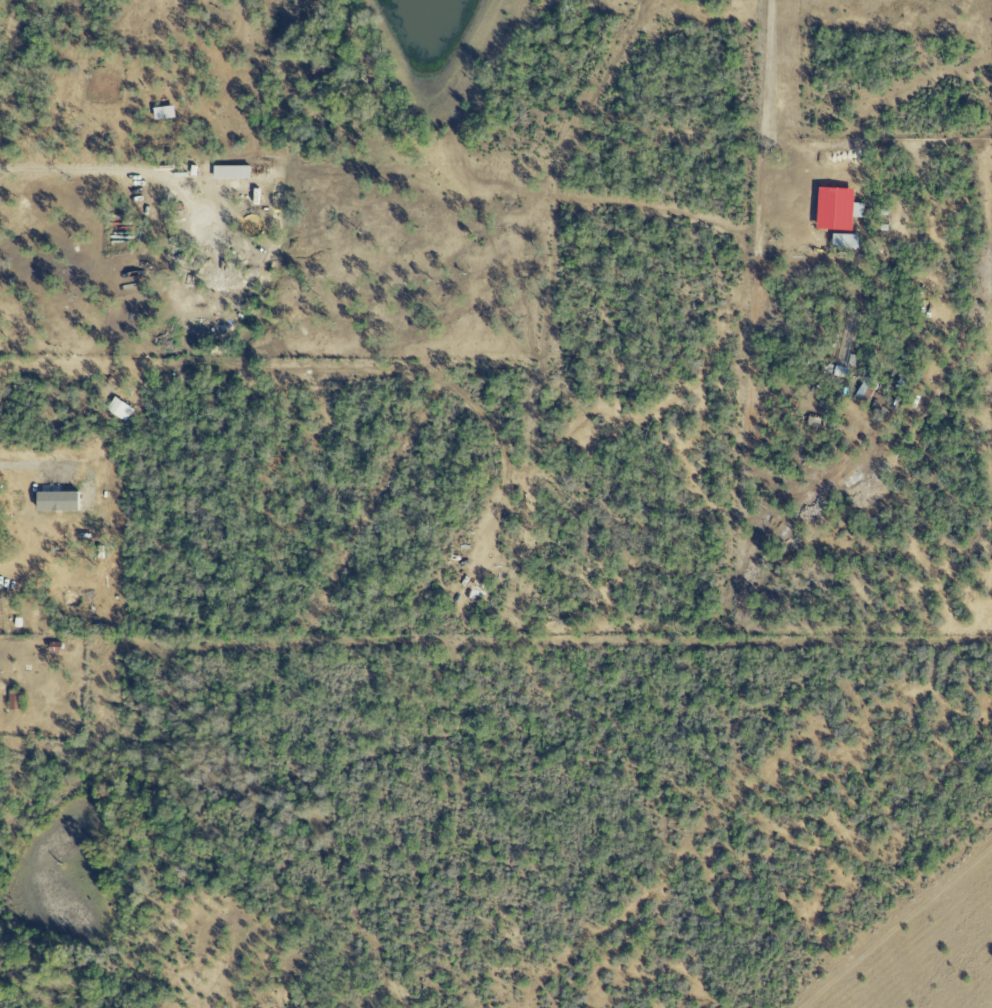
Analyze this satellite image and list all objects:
road: (772, 67)
road: (93, 172)
building: (231, 173)
building: (836, 209)
building: (841, 241)
building: (119, 410)
road: (12, 464)

